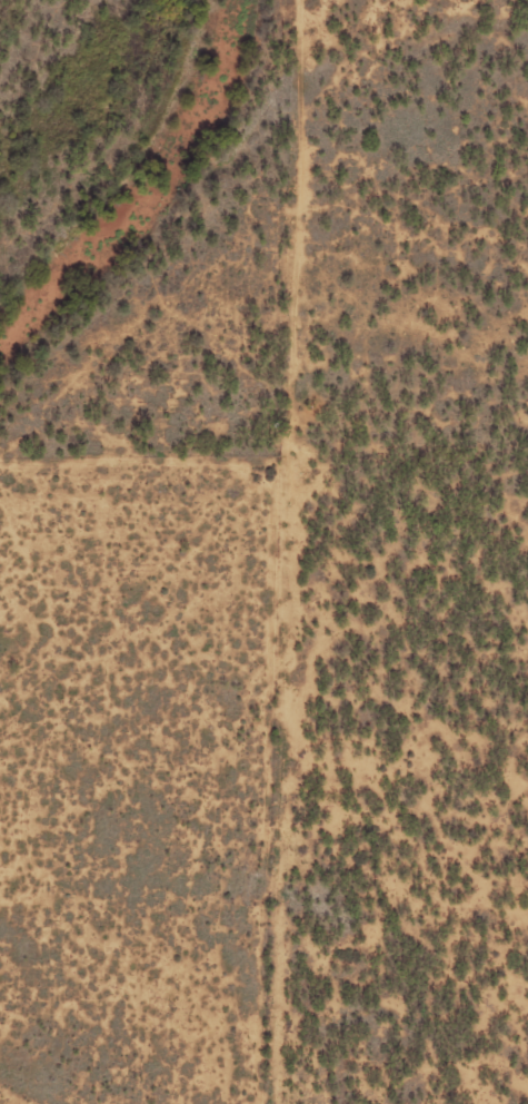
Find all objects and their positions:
river: (156, 195)

